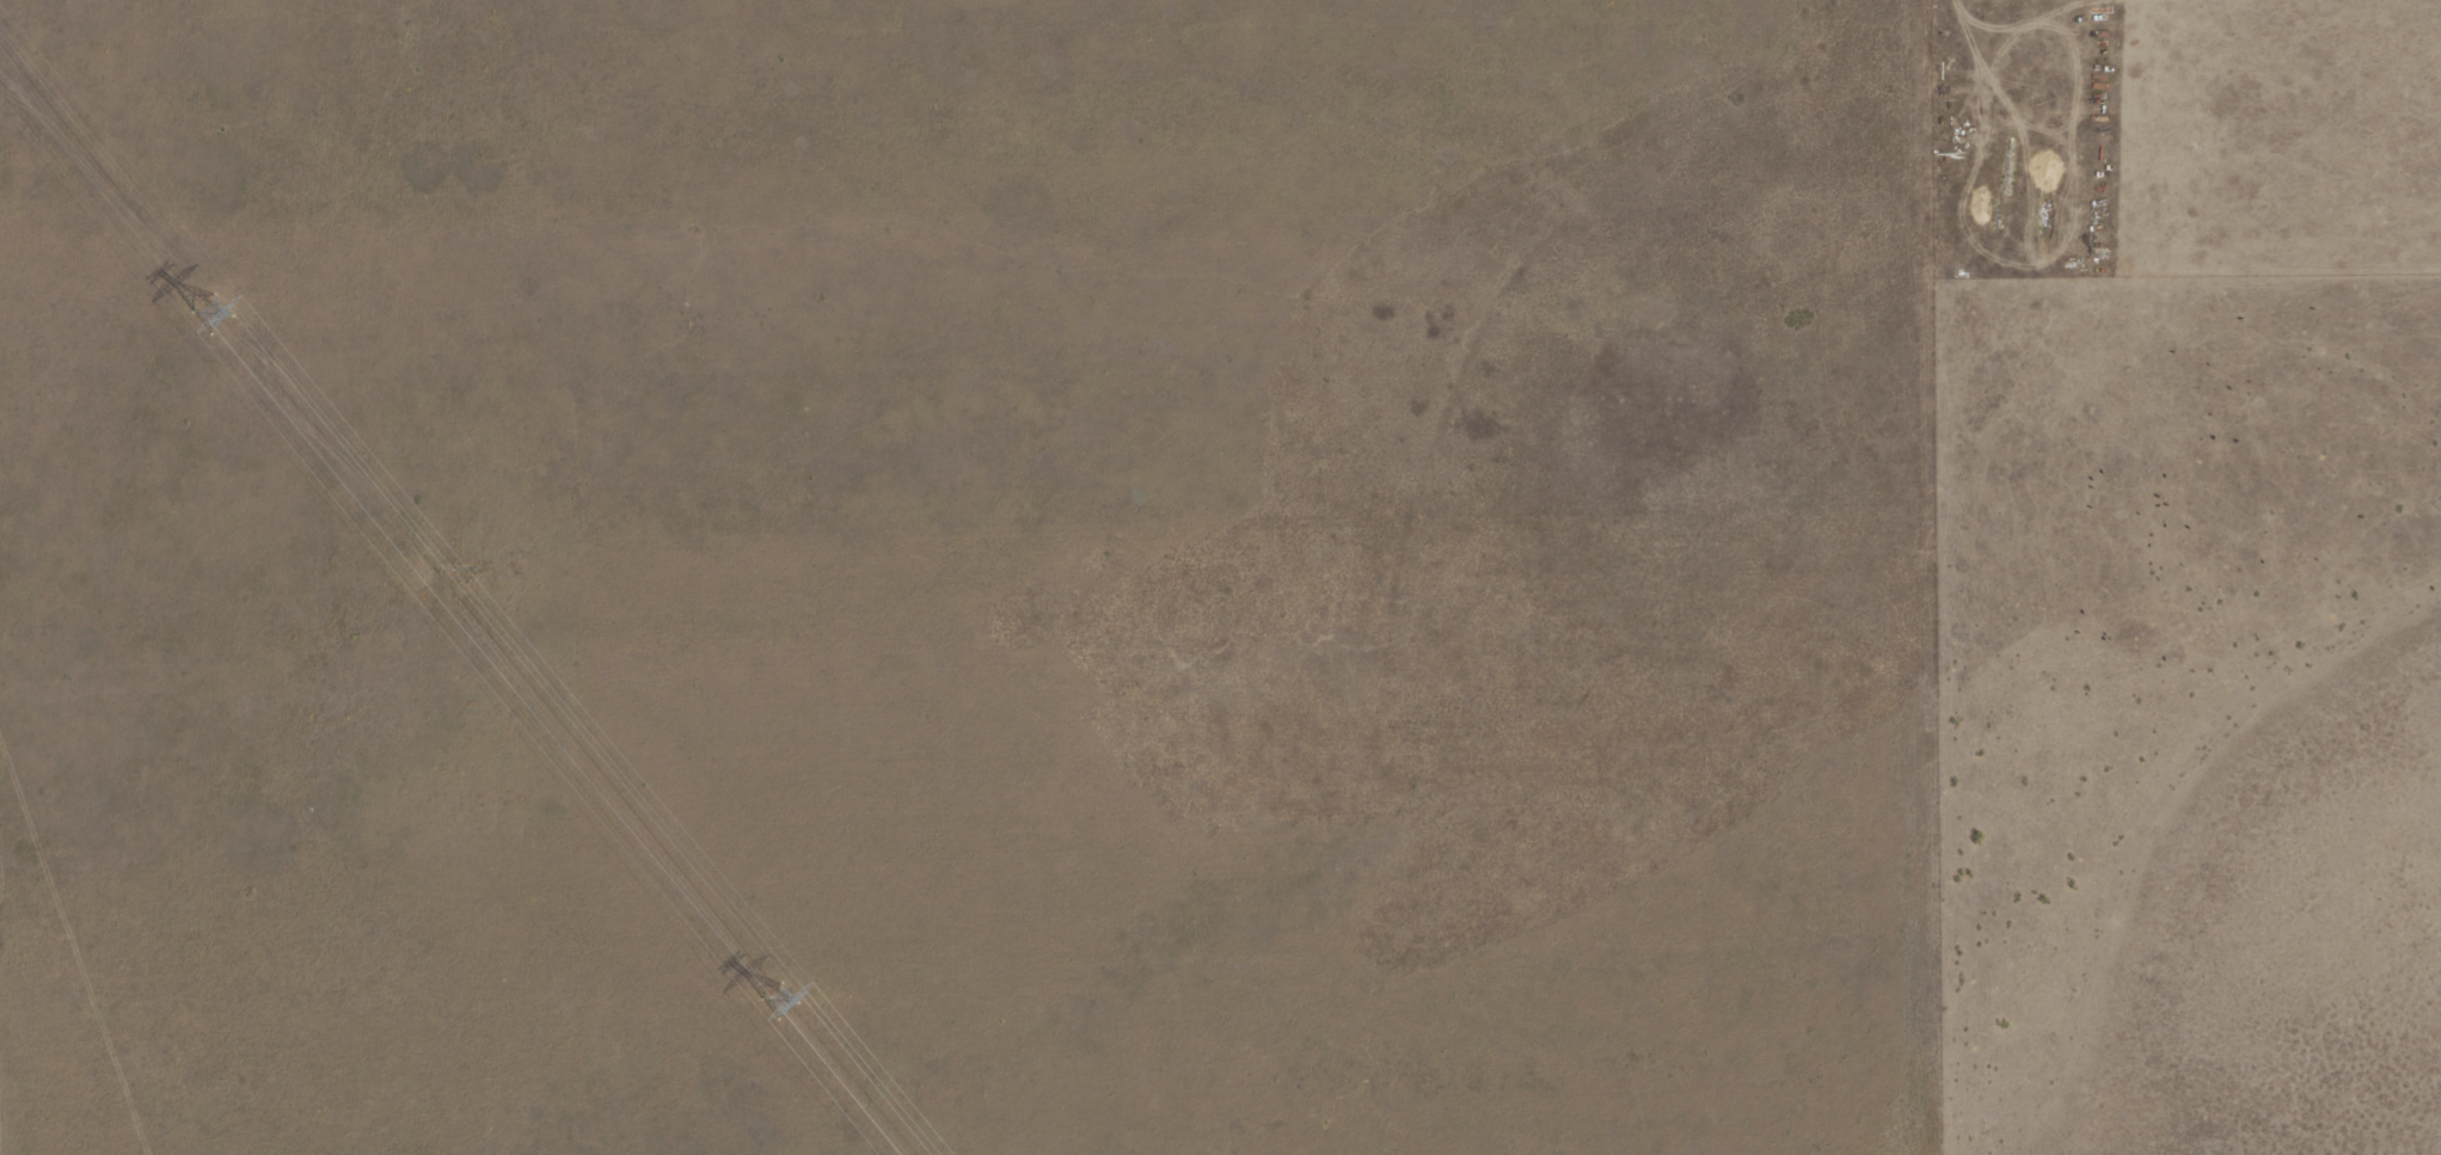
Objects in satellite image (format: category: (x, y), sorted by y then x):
power tower: (211, 314)
power tower: (781, 1001)

